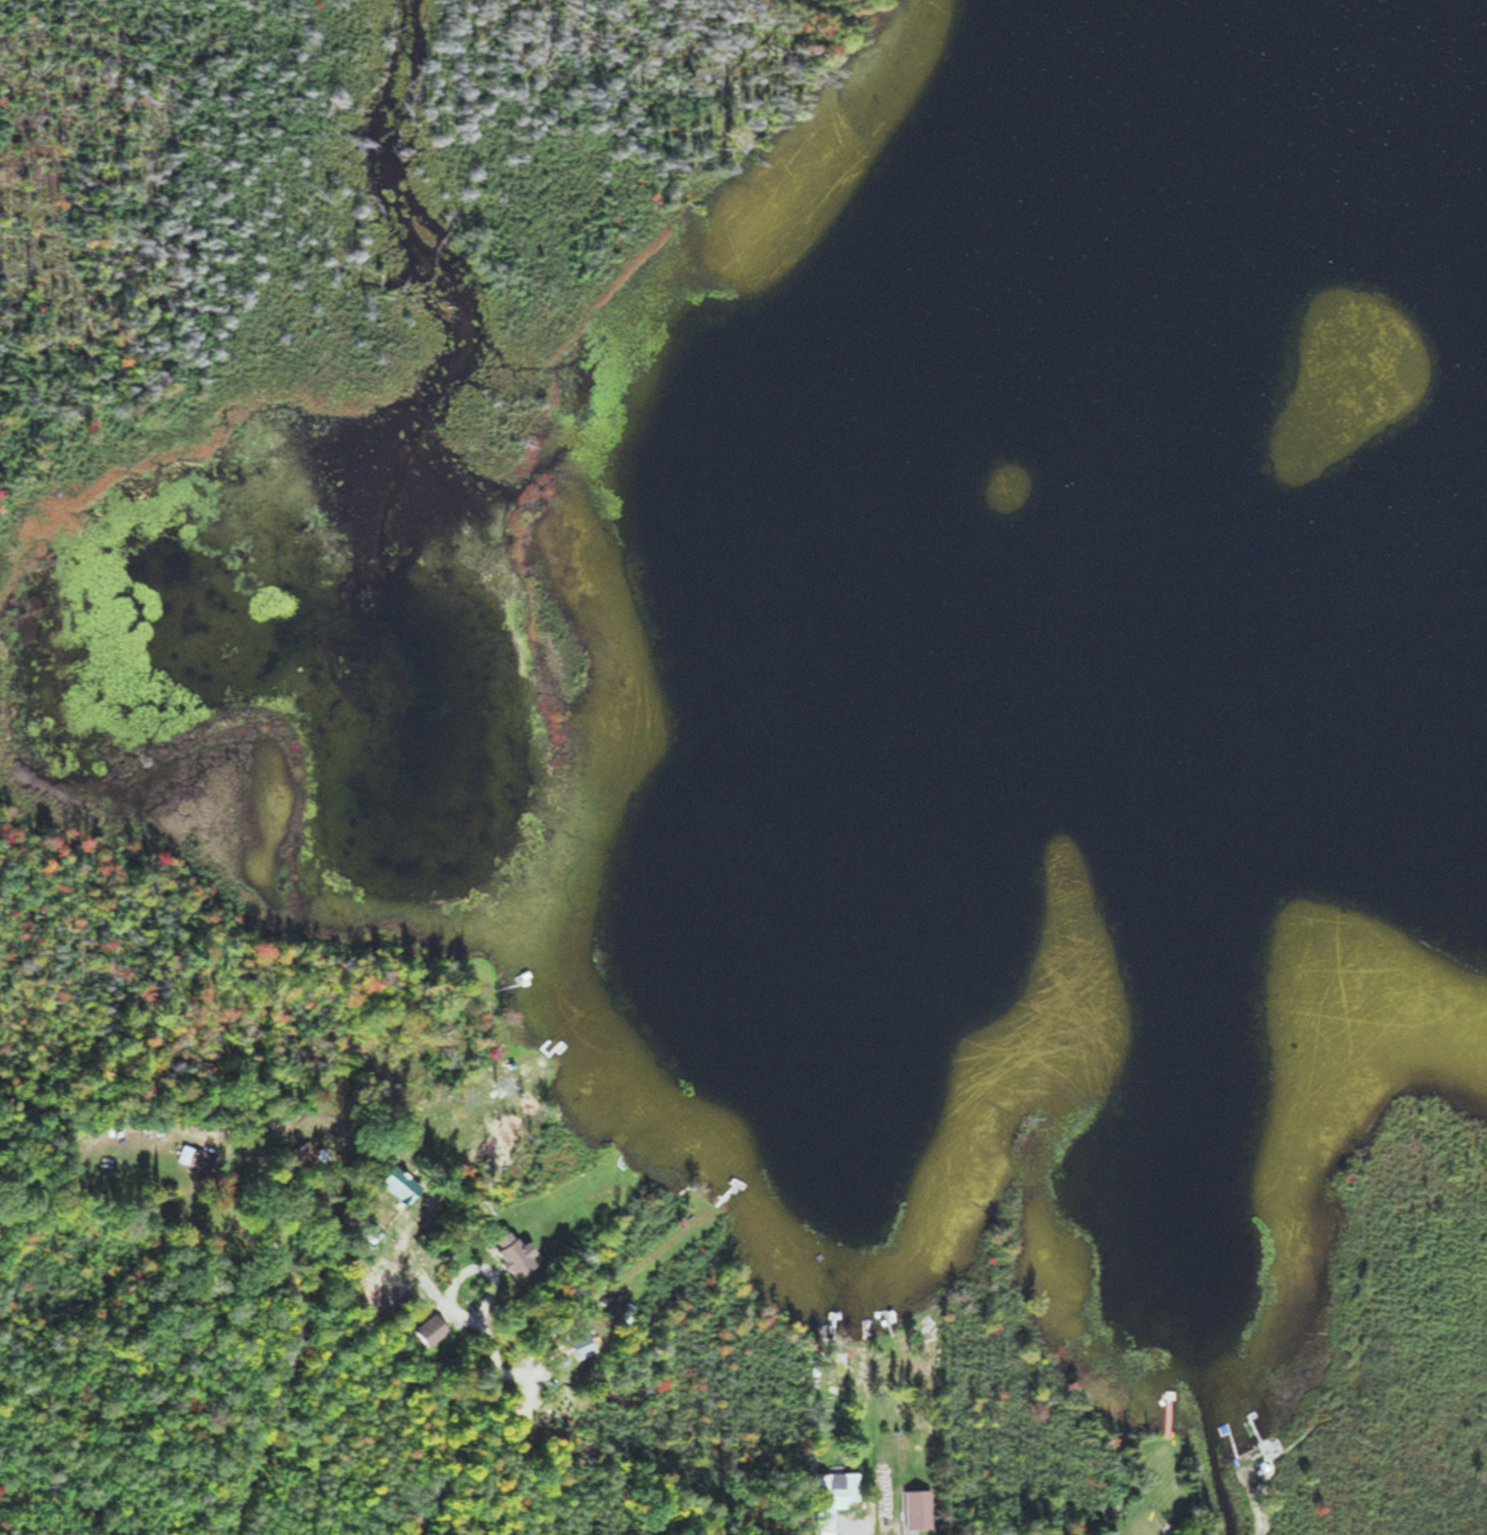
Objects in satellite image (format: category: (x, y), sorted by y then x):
building: (294, 1155)
building: (192, 1157)
building: (393, 1186)
road: (452, 1242)
building: (505, 1254)
building: (425, 1328)
road: (456, 1333)
building: (573, 1344)
road: (291, 1349)
road: (905, 1478)
building: (825, 1496)
building: (912, 1506)

